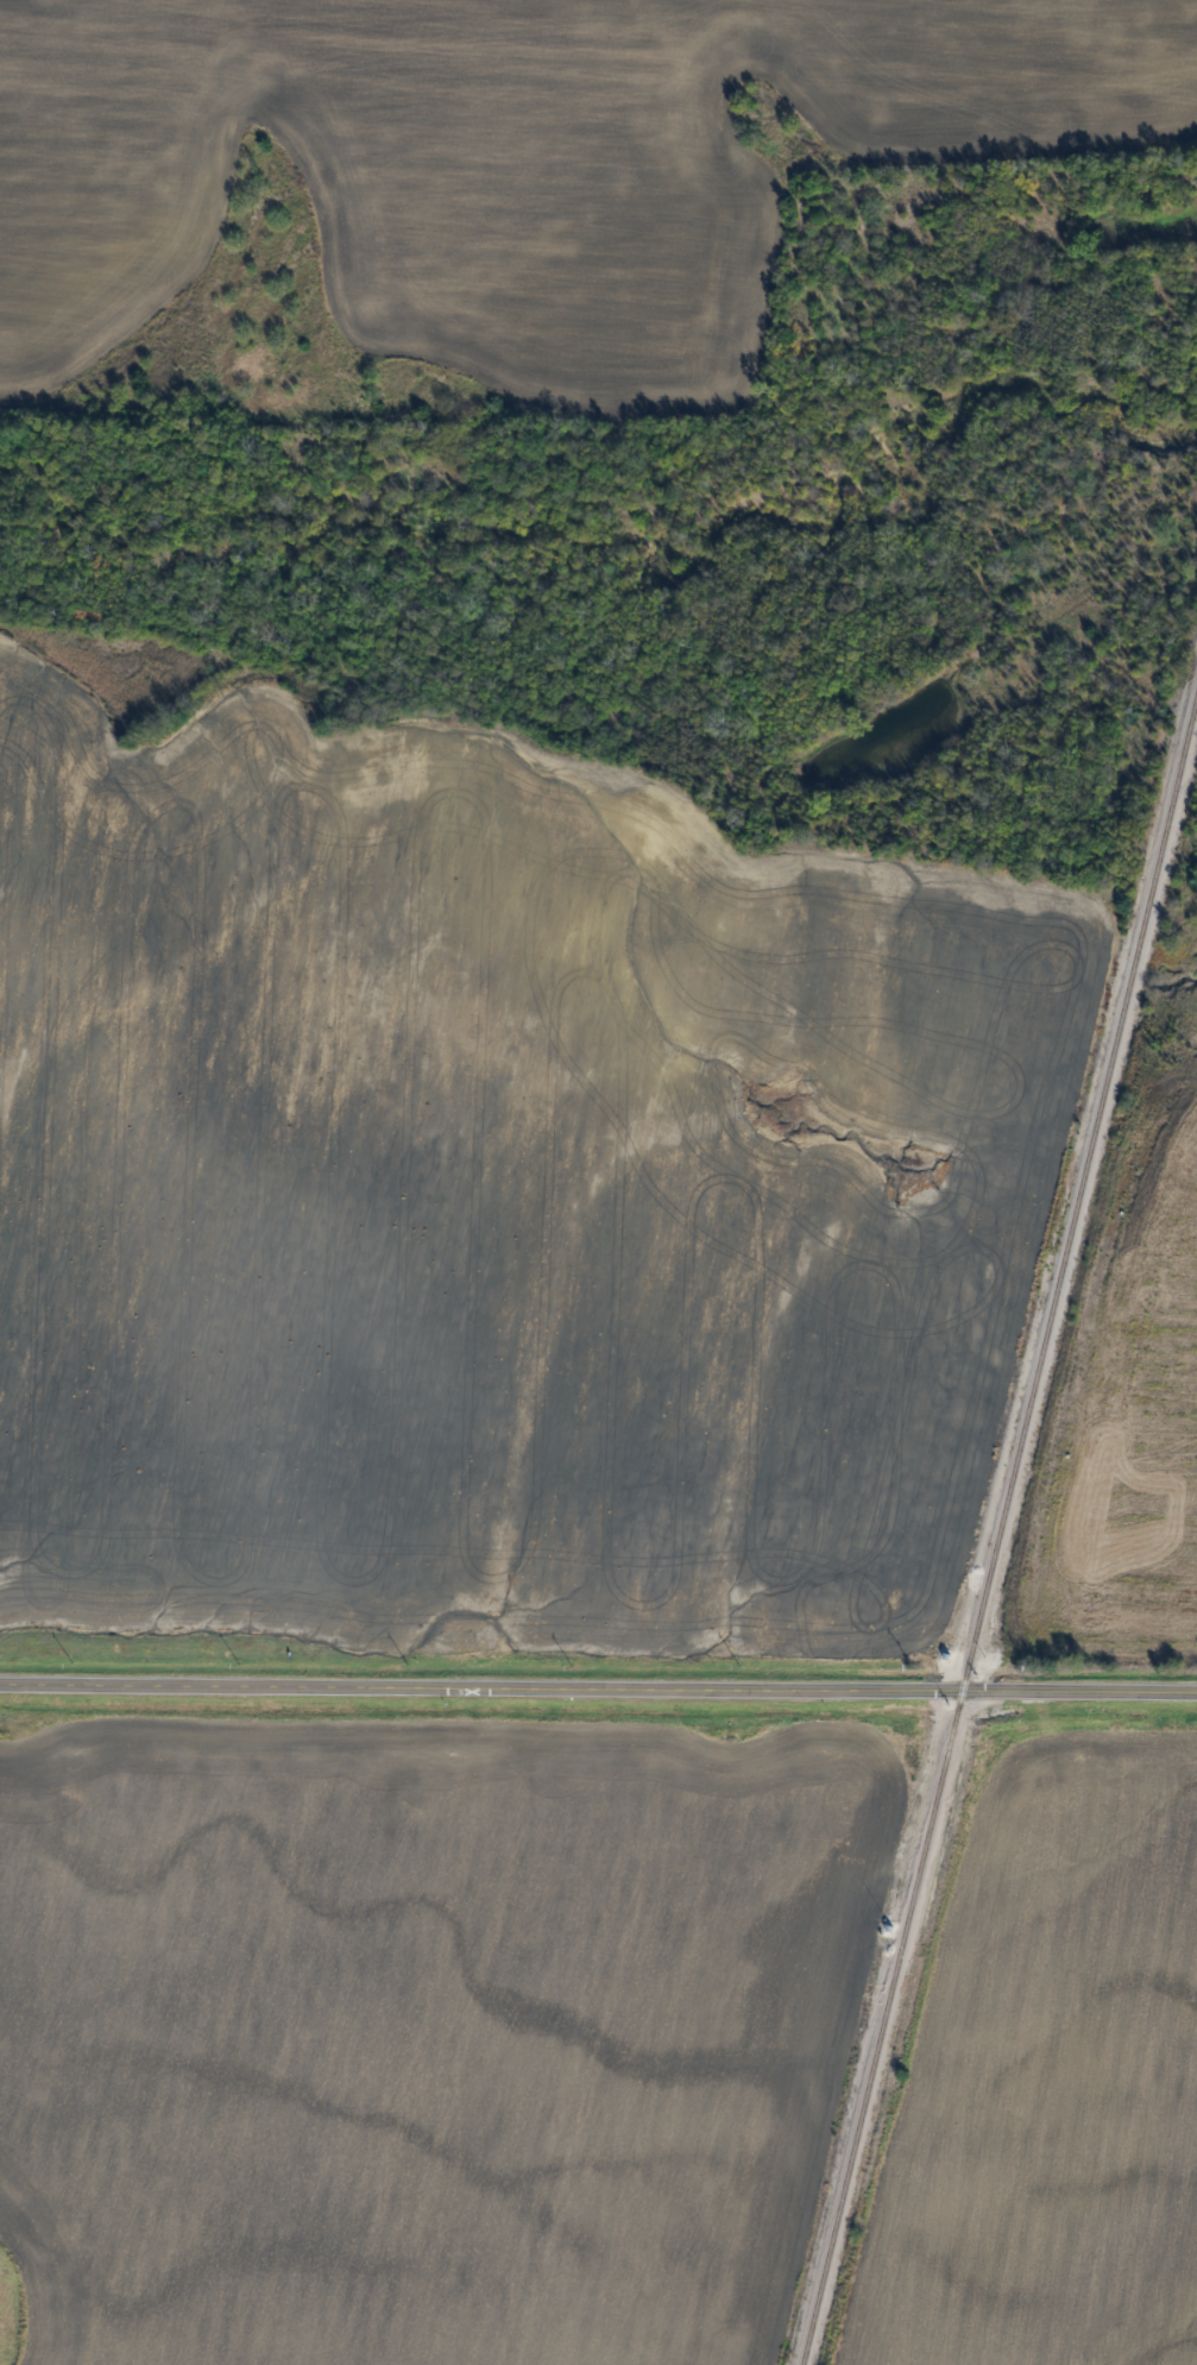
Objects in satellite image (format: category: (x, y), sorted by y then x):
crop: (487, 1191)
railway: (997, 1533)
road: (598, 1690)

